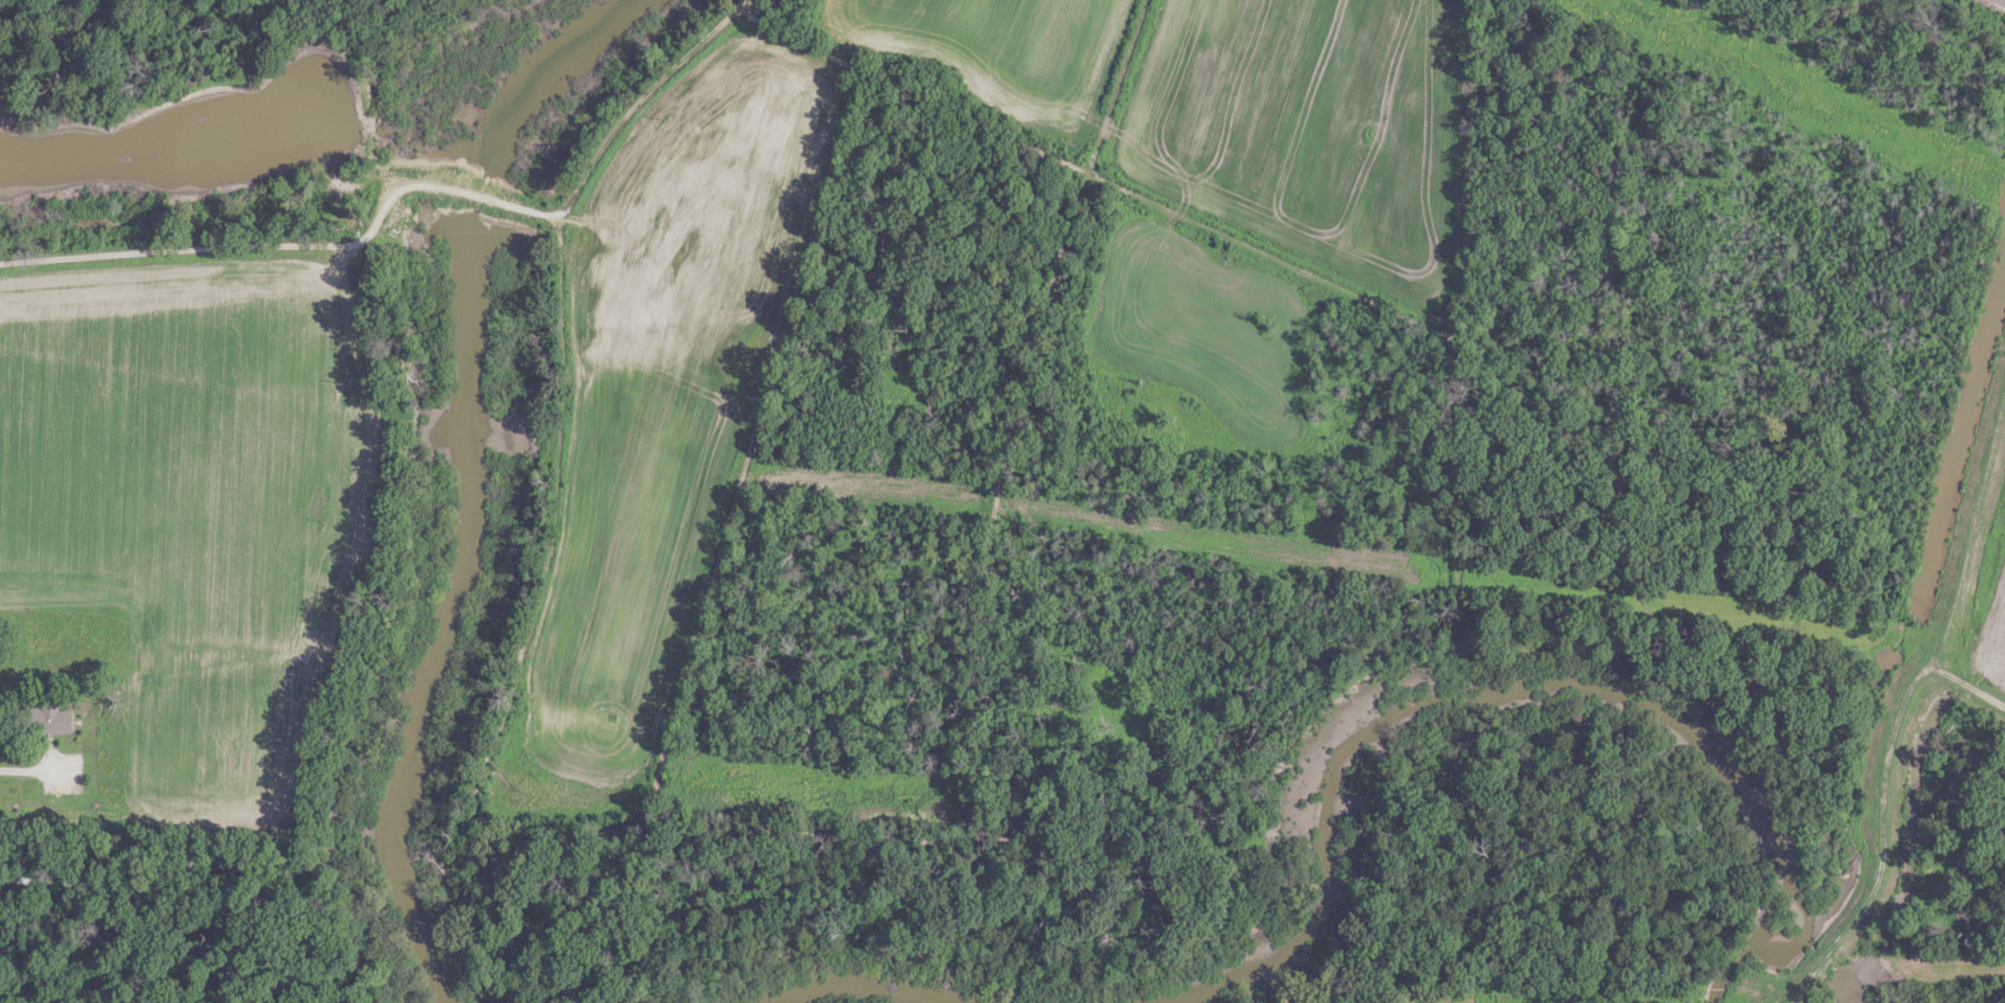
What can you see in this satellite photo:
road: (29, 765)

